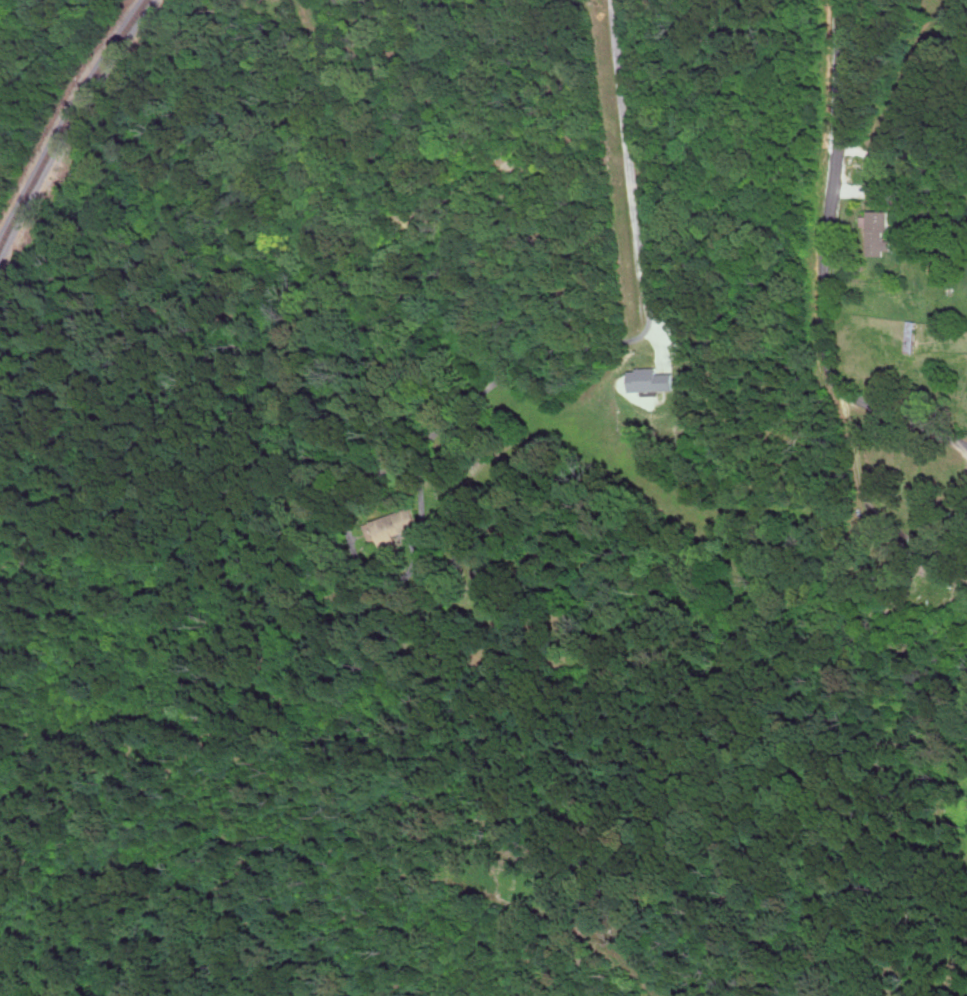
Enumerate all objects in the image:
railway: (69, 122)
road: (629, 146)
building: (888, 193)
building: (876, 230)
road: (835, 266)
building: (652, 378)
road: (483, 390)
building: (395, 524)

